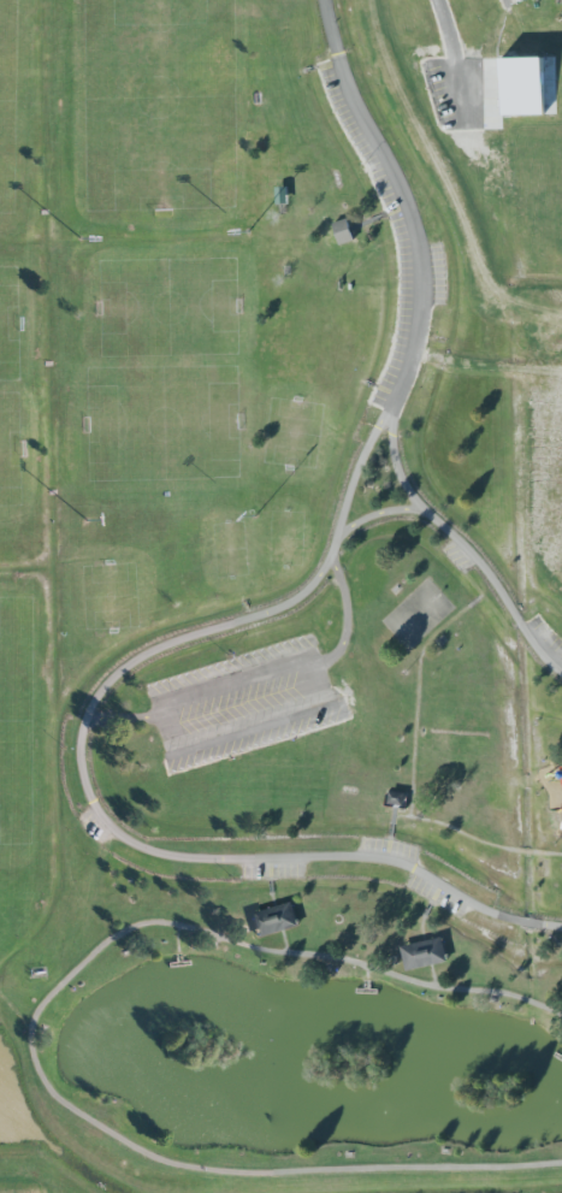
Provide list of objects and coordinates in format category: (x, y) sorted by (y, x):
road: (503, 18)
building: (521, 85)
parking lot: (337, 88)
parking lot: (389, 193)
road: (406, 201)
road: (381, 214)
road: (373, 218)
road: (359, 225)
building: (343, 231)
parking lot: (432, 272)
parking lot: (396, 367)
road: (374, 513)
parking lot: (460, 555)
park: (280, 596)
road: (479, 596)
road: (473, 602)
road: (504, 625)
road: (343, 626)
road: (149, 649)
parking lot: (551, 655)
road: (224, 680)
parking lot: (238, 692)
road: (415, 699)
road: (236, 710)
road: (124, 716)
building: (396, 798)
road: (391, 814)
parking lot: (93, 823)
road: (389, 829)
road: (388, 838)
road: (475, 839)
parking lot: (388, 852)
parking lot: (271, 868)
road: (268, 880)
road: (268, 886)
parking lot: (436, 894)
road: (428, 904)
road: (426, 910)
building: (273, 920)
road: (276, 921)
road: (176, 938)
road: (424, 950)
building: (424, 953)
pier: (176, 958)
pier: (177, 963)
road: (366, 974)
pier: (365, 986)
pier: (365, 992)
road: (26, 1033)
pier: (556, 1057)
pier: (561, 1058)

